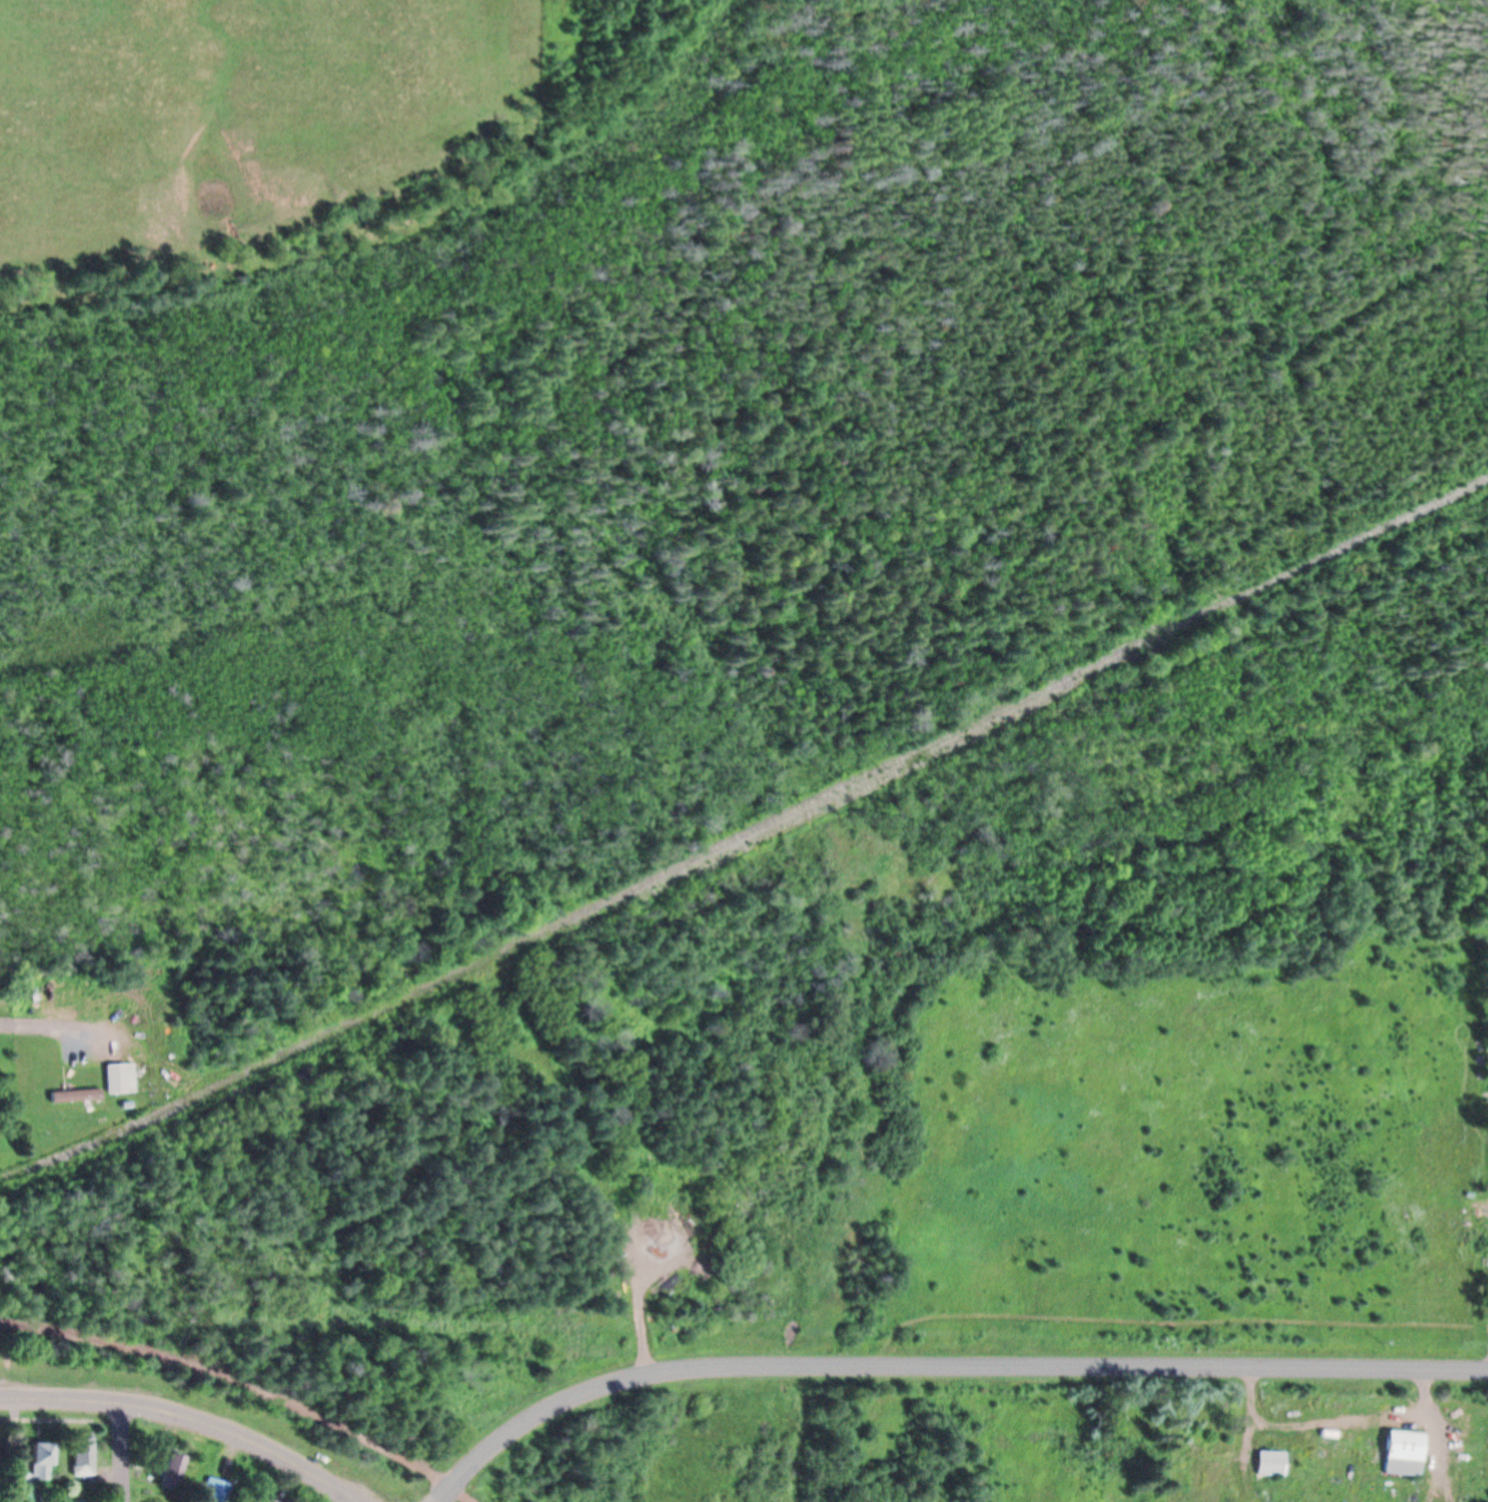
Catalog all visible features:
crop: (239, 117)
railway: (746, 835)
railway: (570, 931)
crop: (1485, 963)
road: (36, 1027)
building: (122, 1080)
building: (78, 1098)
road: (944, 1368)
road: (244, 1386)
road: (186, 1419)
road: (61, 1422)
road: (122, 1453)
building: (84, 1456)
building: (1406, 1456)
building: (1184, 1462)
building: (43, 1463)
building: (1273, 1466)
building: (173, 1473)
building: (217, 1492)

